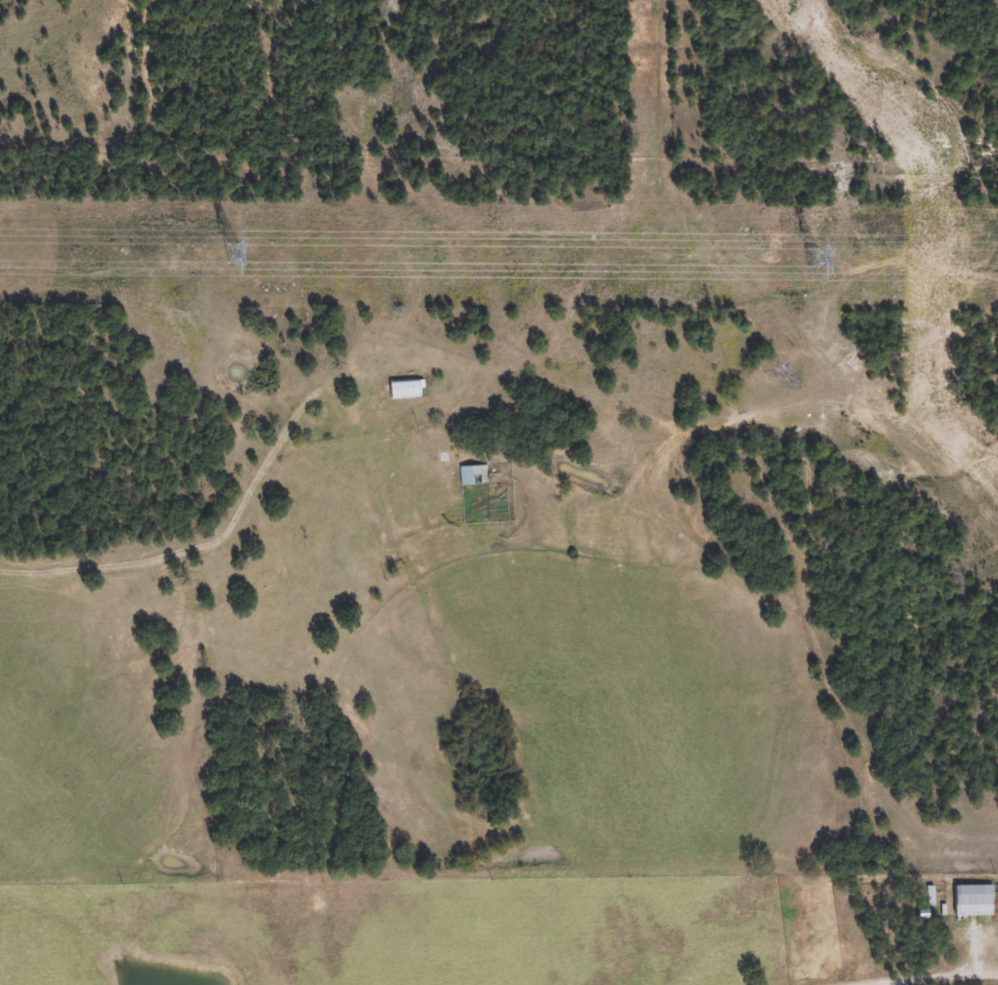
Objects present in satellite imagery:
power tower: (231, 253)
power tower: (810, 257)
building: (403, 388)
building: (470, 475)
road: (238, 522)
road: (810, 834)
building: (973, 900)
road: (945, 979)

